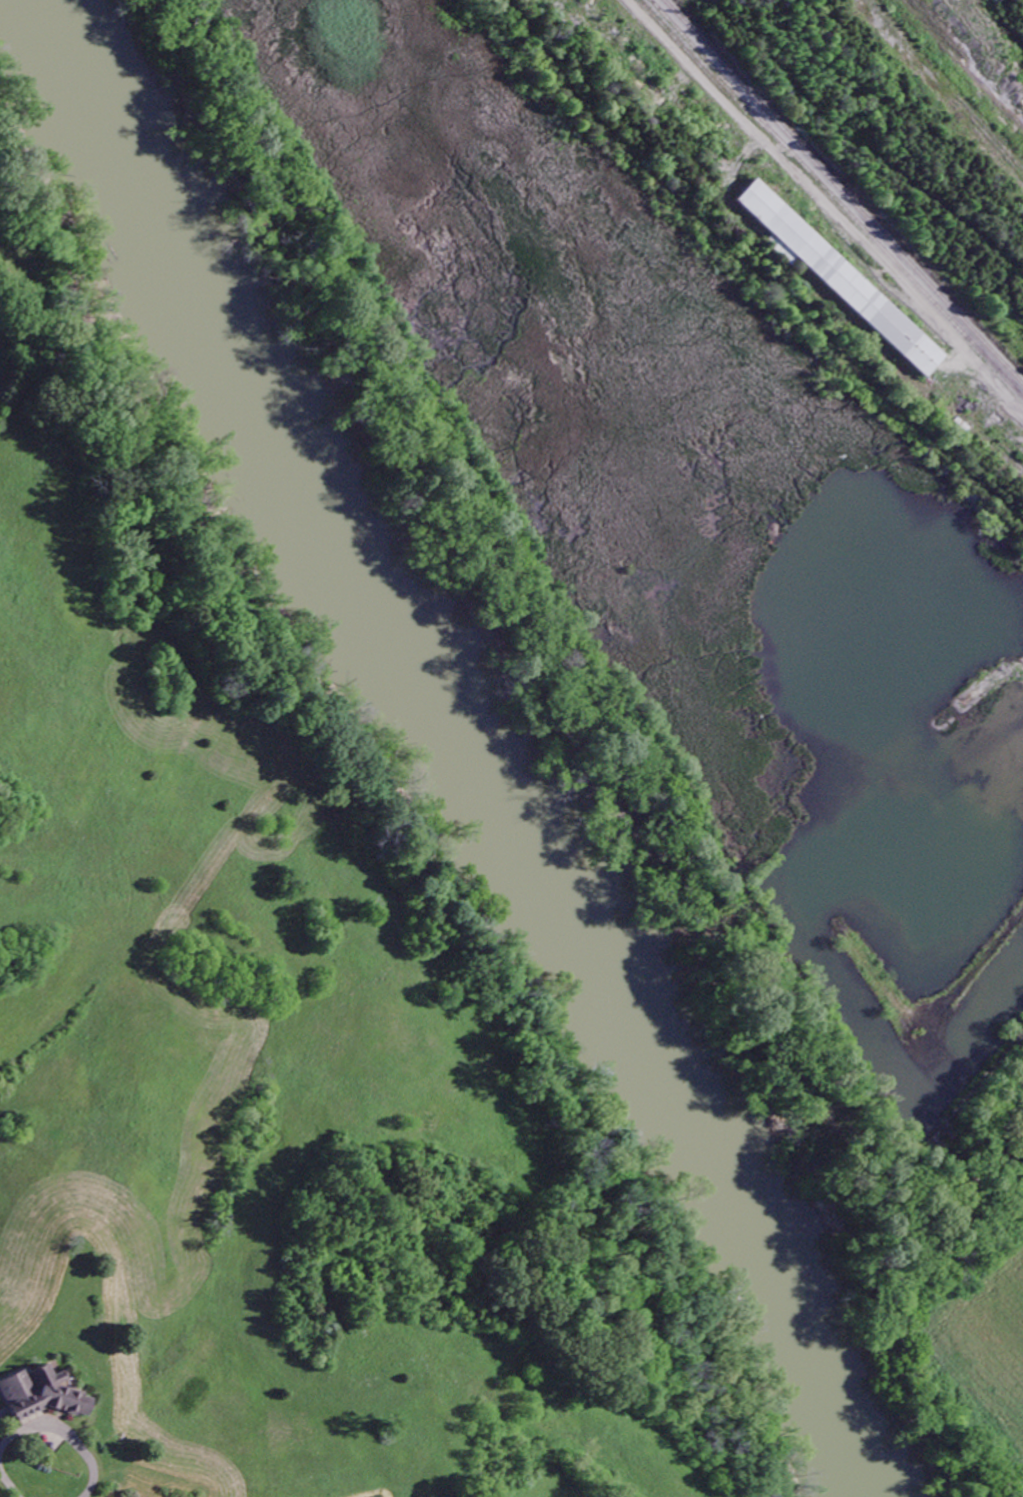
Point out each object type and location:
railway: (841, 194)
building: (840, 280)
river: (463, 751)
building: (44, 1394)
road: (44, 1429)

